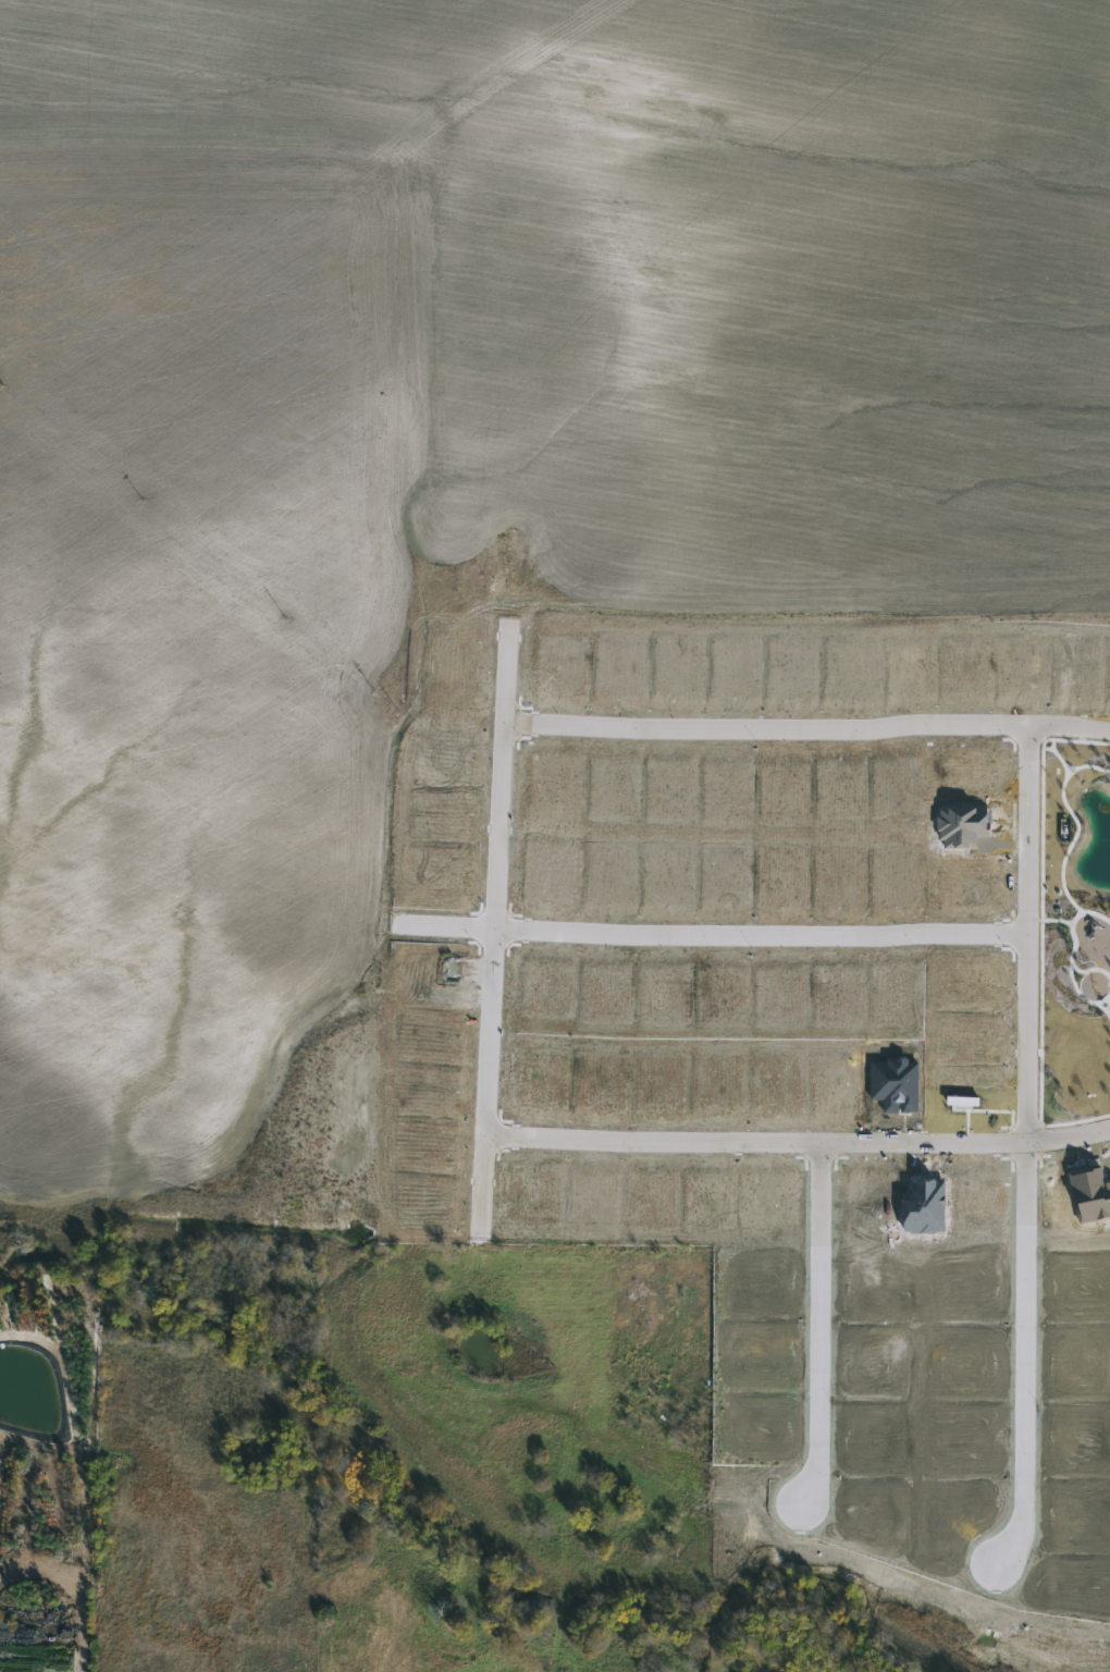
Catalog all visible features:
crop: (464, 457)
road: (807, 730)
road: (1054, 750)
road: (1089, 767)
road: (1045, 799)
road: (1074, 844)
road: (1077, 920)
road: (495, 932)
road: (713, 937)
road: (1072, 964)
road: (1090, 971)
road: (1102, 1001)
road: (1043, 1057)
road: (799, 1143)
road: (1028, 1149)
road: (821, 1325)

